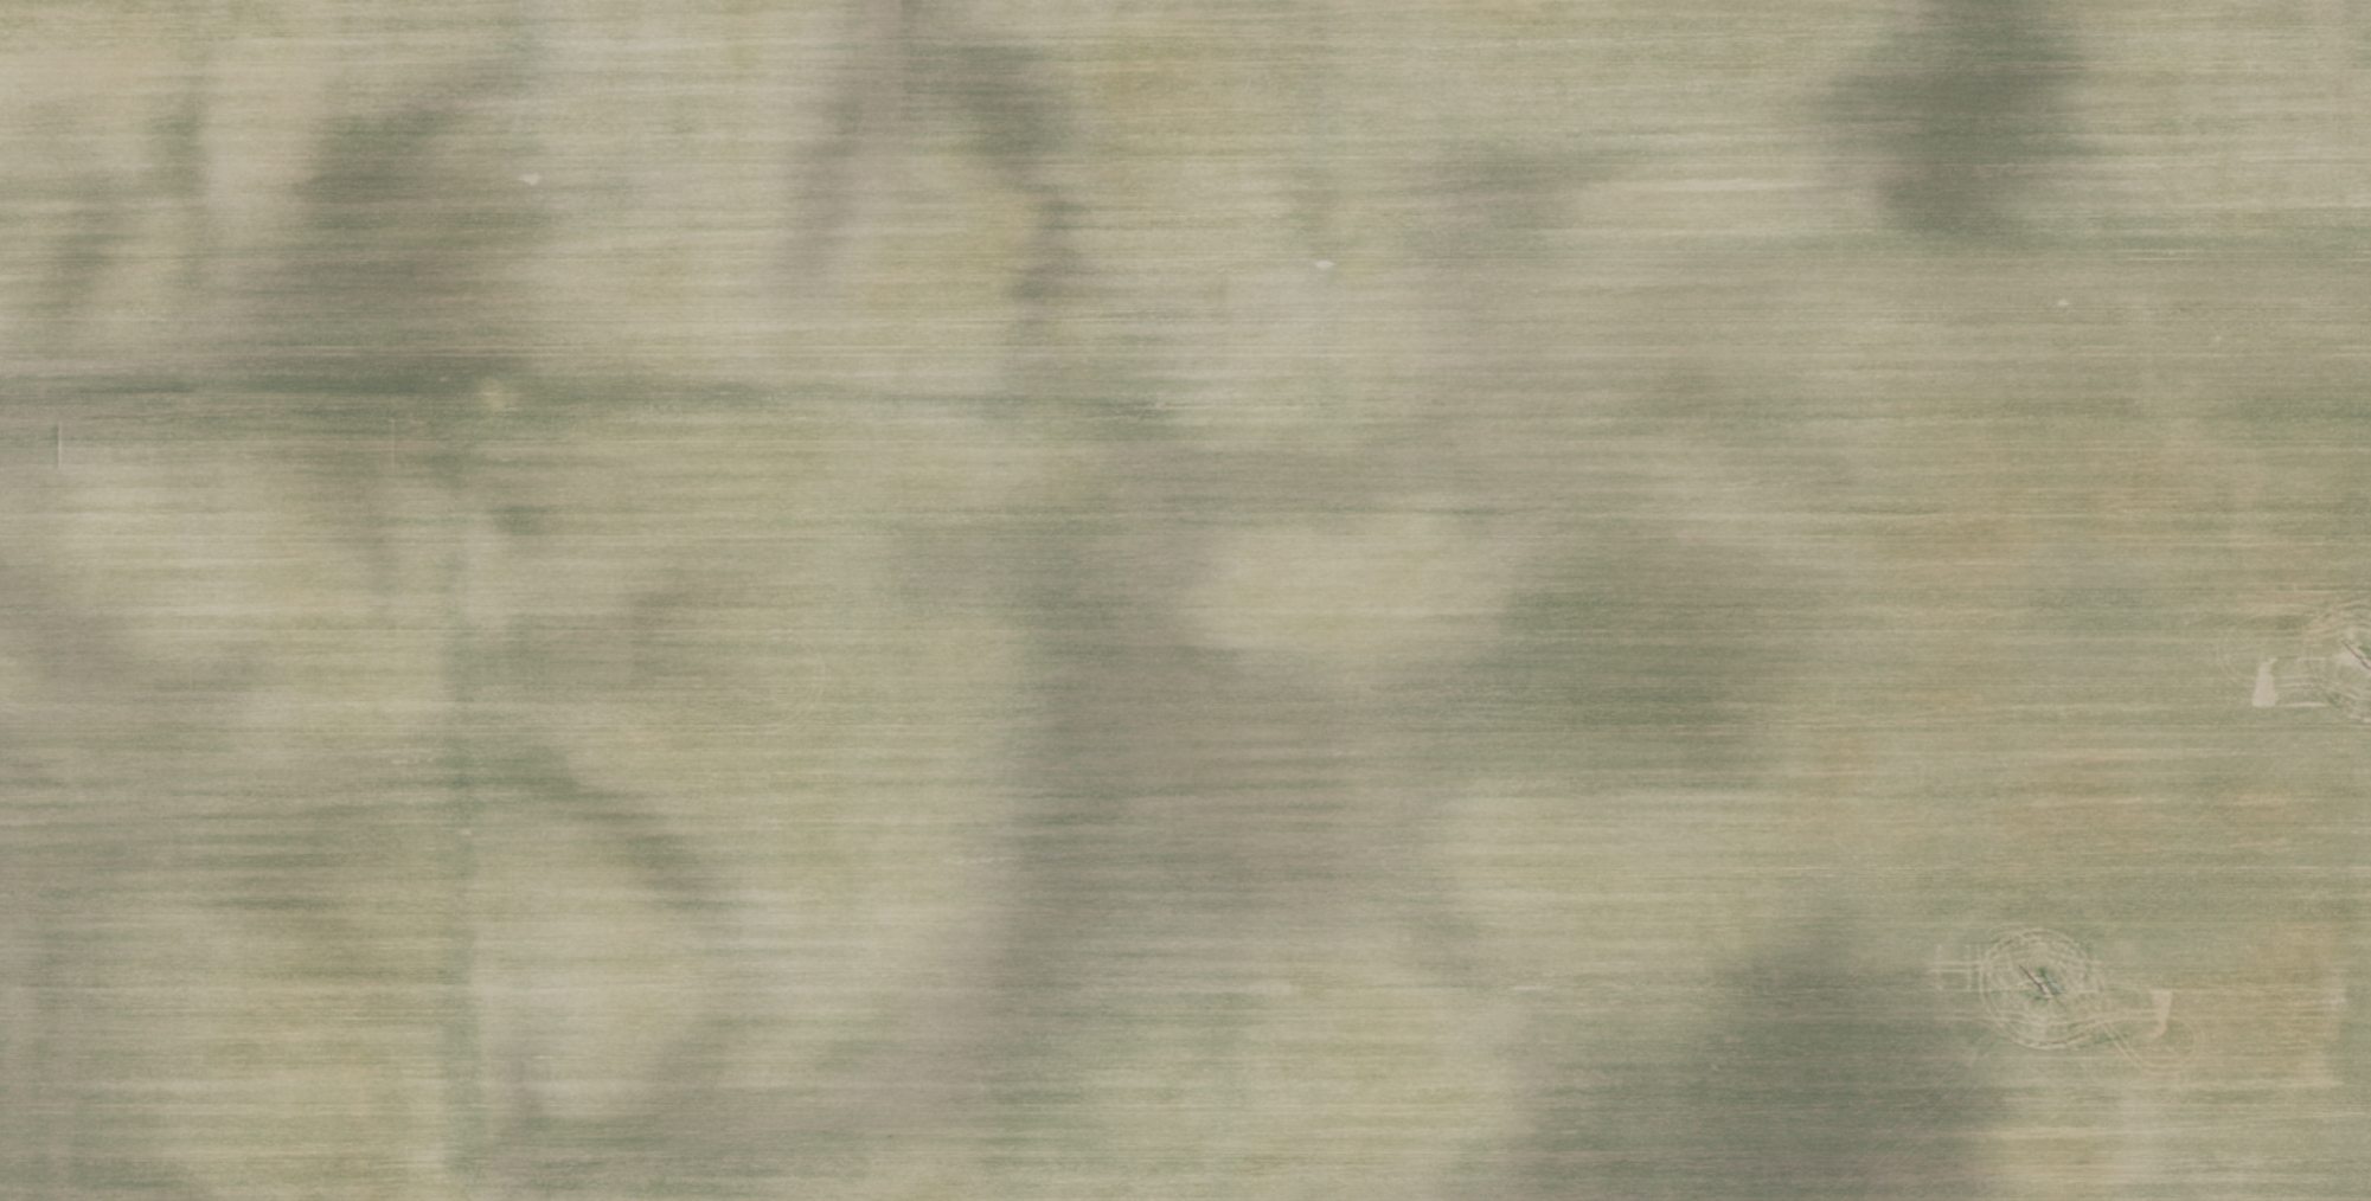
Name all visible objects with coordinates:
power tower: (2364, 662)
power tower: (2038, 985)

